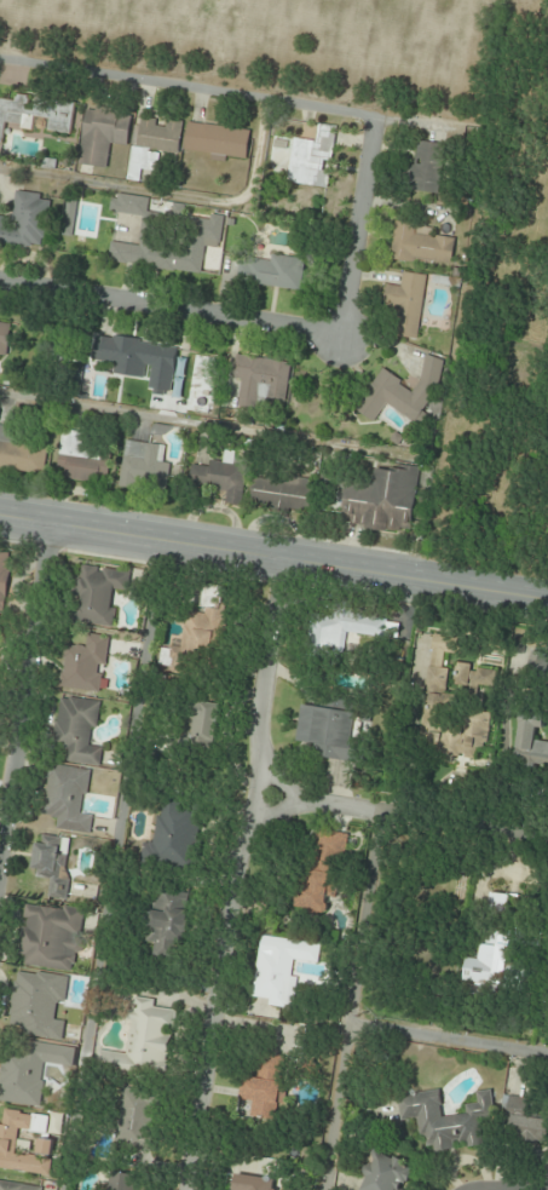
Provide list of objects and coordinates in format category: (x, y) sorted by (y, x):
road: (188, 84)
building: (35, 115)
road: (461, 131)
building: (102, 137)
building: (217, 140)
building: (155, 142)
building: (312, 157)
building: (427, 167)
building: (27, 222)
road: (359, 226)
building: (167, 237)
building: (420, 246)
building: (272, 272)
building: (406, 304)
road: (172, 306)
building: (5, 337)
building: (139, 360)
building: (263, 380)
building: (404, 393)
building: (19, 452)
building: (83, 459)
building: (144, 467)
building: (223, 477)
building: (281, 494)
building: (382, 500)
road: (273, 559)
building: (4, 577)
building: (98, 594)
building: (0, 623)
building: (203, 627)
building: (344, 628)
building: (85, 665)
building: (538, 666)
building: (477, 676)
building: (438, 685)
road: (28, 701)
building: (209, 723)
building: (77, 730)
building: (328, 732)
building: (466, 737)
building: (531, 743)
building: (68, 798)
road: (406, 818)
building: (174, 837)
building: (52, 863)
building: (322, 870)
road: (241, 873)
building: (169, 924)
building: (52, 937)
building: (490, 962)
building: (279, 968)
road: (353, 1002)
building: (38, 1005)
road: (449, 1037)
building: (150, 1040)
building: (30, 1071)
building: (265, 1086)
building: (134, 1117)
building: (446, 1120)
building: (523, 1121)
building: (8, 1146)
building: (387, 1172)
building: (123, 1182)
building: (253, 1183)
building: (18, 1186)
road: (479, 1189)

